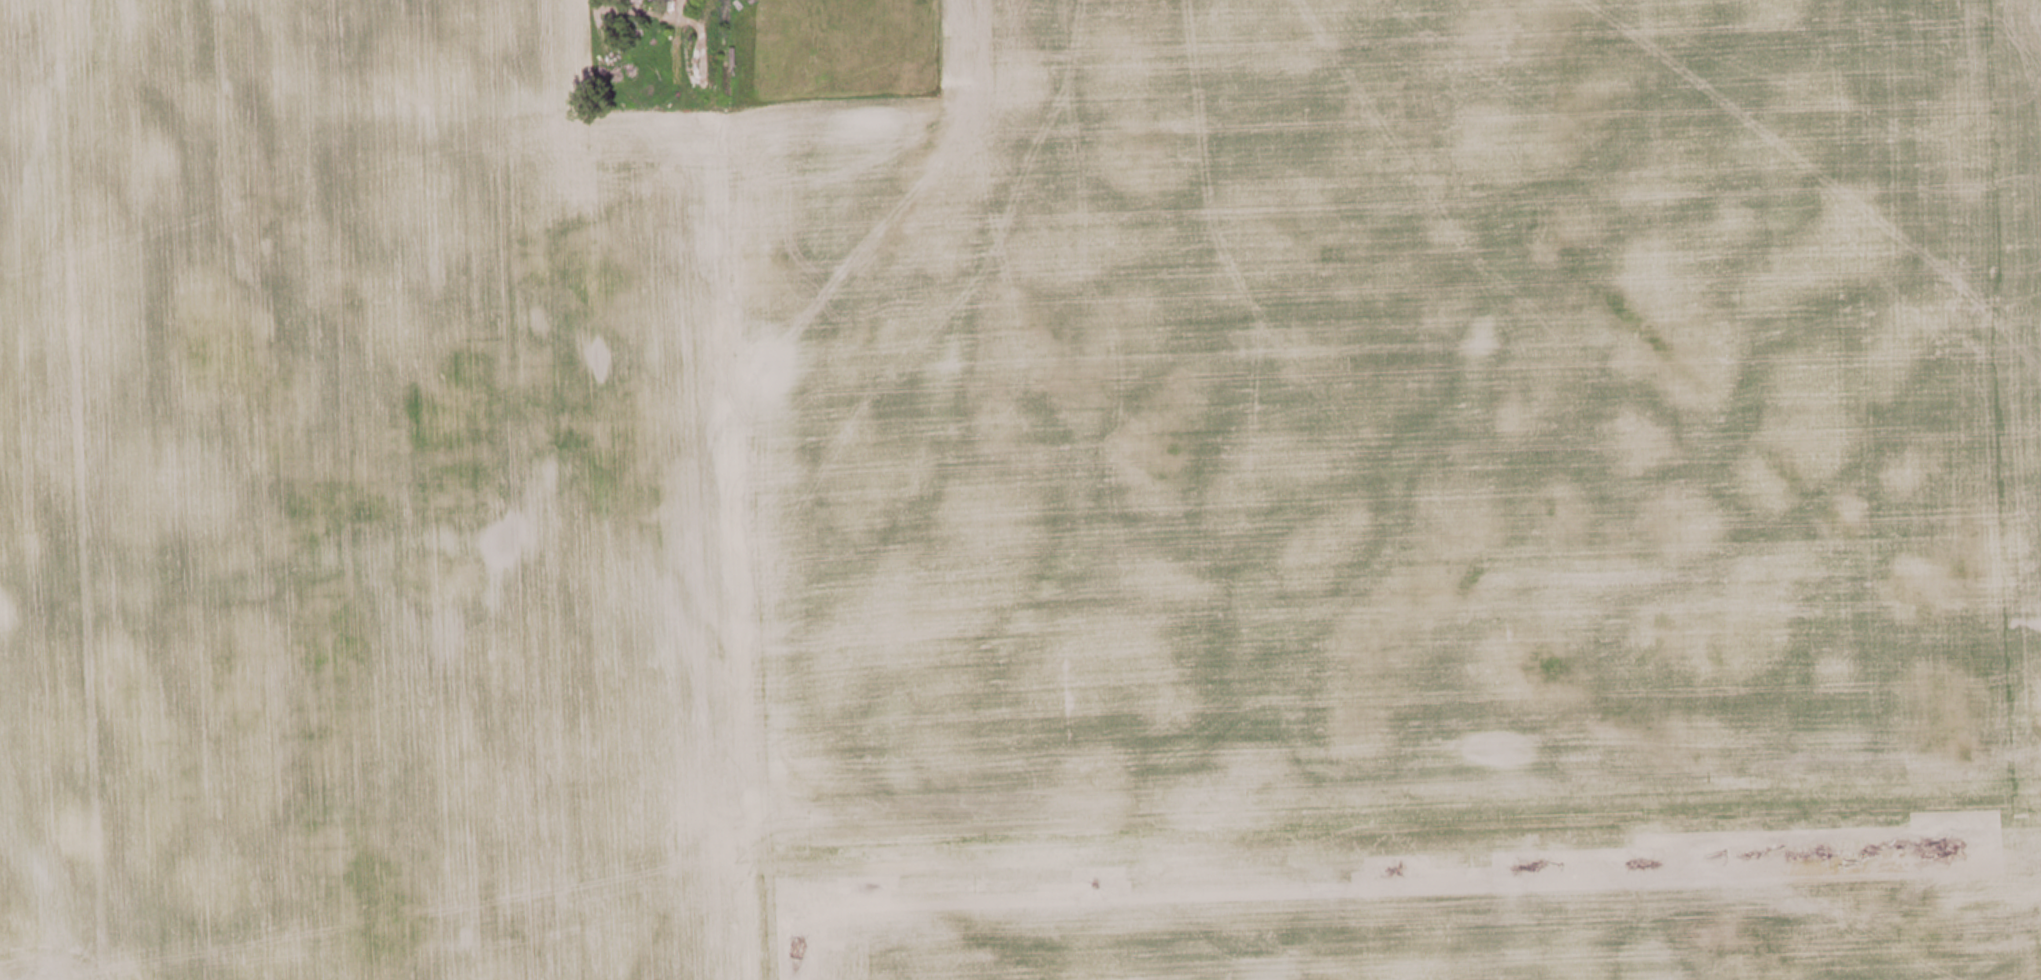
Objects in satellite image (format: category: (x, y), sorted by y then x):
road: (1382, 865)

